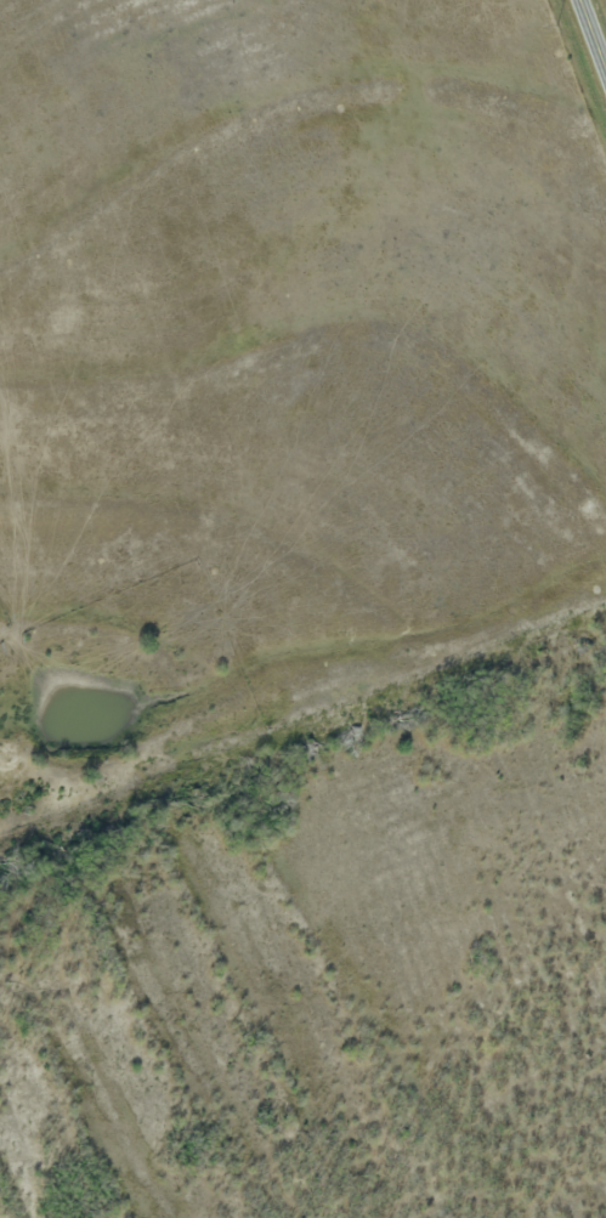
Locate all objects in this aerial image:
road: (591, 35)

